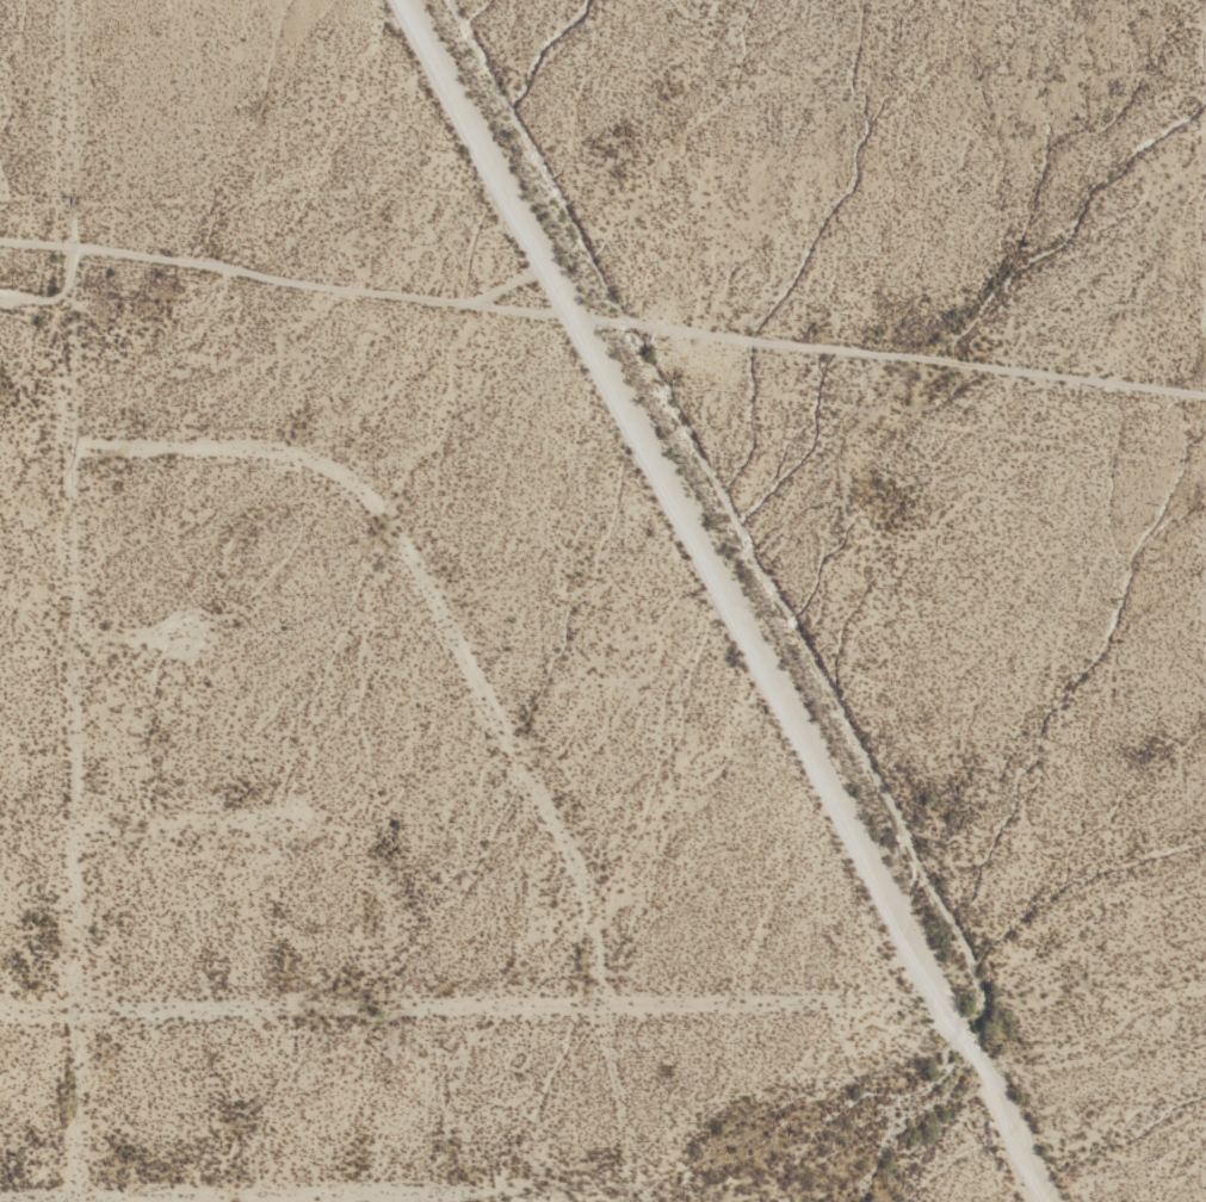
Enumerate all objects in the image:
road: (37, 296)
road: (601, 321)
road: (76, 600)
road: (723, 600)
road: (135, 637)
road: (483, 696)
road: (188, 822)
road: (412, 1004)
road: (1117, 1117)
road: (314, 1191)

